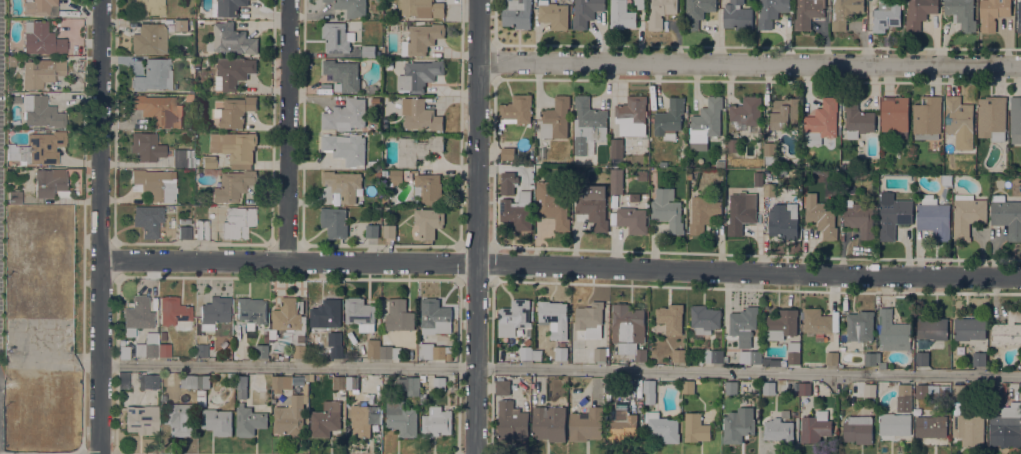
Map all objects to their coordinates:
building: (639, 3)
building: (149, 6)
building: (351, 6)
building: (40, 7)
building: (227, 7)
building: (423, 8)
building: (697, 11)
building: (771, 11)
building: (585, 12)
building: (660, 12)
building: (845, 12)
building: (918, 12)
building: (517, 13)
building: (807, 13)
building: (962, 13)
building: (992, 13)
building: (553, 14)
building: (621, 15)
building: (737, 15)
building: (886, 15)
building: (1019, 16)
building: (181, 25)
building: (337, 37)
building: (42, 38)
building: (421, 38)
building: (149, 39)
building: (231, 39)
road: (737, 46)
building: (368, 51)
building: (12, 61)
building: (197, 65)
road: (749, 65)
building: (233, 71)
building: (41, 72)
building: (342, 74)
building: (418, 74)
building: (154, 75)
building: (371, 89)
road: (493, 92)
building: (190, 97)
building: (53, 98)
building: (375, 99)
building: (516, 109)
building: (158, 110)
building: (41, 111)
building: (234, 111)
building: (746, 113)
building: (785, 113)
building: (345, 115)
building: (421, 115)
building: (631, 115)
building: (894, 115)
building: (927, 117)
building: (992, 117)
building: (555, 118)
building: (669, 119)
building: (857, 119)
building: (1015, 119)
building: (959, 121)
building: (821, 122)
building: (705, 123)
building: (588, 124)
road: (287, 131)
building: (733, 144)
building: (147, 146)
building: (235, 147)
building: (346, 147)
building: (616, 147)
building: (37, 148)
building: (417, 148)
building: (769, 152)
building: (508, 153)
building: (183, 158)
building: (209, 160)
building: (663, 163)
building: (805, 163)
building: (851, 163)
building: (730, 172)
building: (642, 175)
building: (399, 176)
building: (758, 178)
building: (616, 180)
building: (50, 181)
building: (530, 181)
building: (508, 182)
building: (154, 183)
building: (342, 184)
building: (233, 185)
building: (429, 188)
building: (769, 189)
building: (15, 196)
building: (634, 197)
building: (552, 204)
building: (667, 209)
building: (593, 210)
building: (702, 213)
building: (516, 214)
building: (739, 214)
building: (894, 214)
building: (967, 214)
building: (821, 215)
building: (1007, 215)
building: (933, 217)
building: (859, 218)
building: (632, 219)
building: (148, 220)
building: (783, 220)
building: (184, 221)
building: (428, 221)
building: (238, 222)
building: (334, 222)
road: (476, 226)
road: (101, 227)
building: (201, 229)
building: (372, 230)
building: (389, 230)
building: (185, 232)
road: (950, 259)
road: (84, 265)
road: (561, 265)
road: (671, 286)
building: (300, 306)
building: (173, 310)
building: (251, 311)
building: (214, 312)
building: (138, 313)
building: (326, 313)
building: (360, 313)
building: (399, 315)
building: (589, 315)
building: (285, 316)
building: (435, 316)
building: (513, 317)
building: (554, 317)
building: (671, 317)
building: (704, 318)
building: (743, 321)
building: (819, 321)
building: (782, 324)
building: (860, 325)
building: (932, 328)
building: (969, 328)
building: (1007, 329)
building: (629, 330)
building: (266, 331)
building: (892, 331)
building: (163, 335)
building: (266, 338)
building: (528, 342)
building: (147, 346)
building: (373, 348)
building: (163, 350)
building: (201, 350)
building: (262, 350)
building: (299, 351)
building: (336, 351)
building: (390, 351)
building: (434, 351)
building: (793, 351)
building: (526, 352)
building: (122, 353)
building: (536, 353)
building: (560, 353)
building: (599, 353)
building: (679, 355)
building: (713, 355)
building: (750, 356)
building: (308, 357)
building: (832, 357)
building: (870, 358)
building: (922, 358)
building: (978, 358)
building: (783, 363)
building: (882, 365)
road: (560, 367)
road: (458, 371)
building: (306, 377)
building: (310, 377)
building: (124, 379)
building: (148, 381)
building: (188, 381)
building: (282, 381)
building: (351, 382)
building: (439, 383)
building: (408, 384)
building: (611, 384)
building: (241, 385)
building: (502, 386)
building: (688, 386)
building: (731, 387)
building: (769, 387)
building: (202, 388)
building: (805, 388)
building: (870, 389)
building: (649, 390)
building: (932, 390)
building: (959, 390)
building: (996, 391)
building: (903, 397)
building: (365, 398)
building: (329, 412)
building: (785, 413)
building: (290, 416)
building: (178, 418)
building: (401, 418)
building: (363, 419)
building: (142, 420)
building: (217, 421)
building: (249, 421)
building: (436, 421)
building: (511, 421)
building: (549, 422)
building: (894, 423)
building: (586, 424)
building: (738, 424)
building: (622, 425)
building: (931, 425)
building: (1006, 425)
building: (347, 426)
building: (662, 426)
building: (815, 426)
building: (695, 427)
building: (968, 428)
building: (858, 429)
building: (778, 430)
road: (82, 451)
road: (99, 453)
road: (159, 453)

